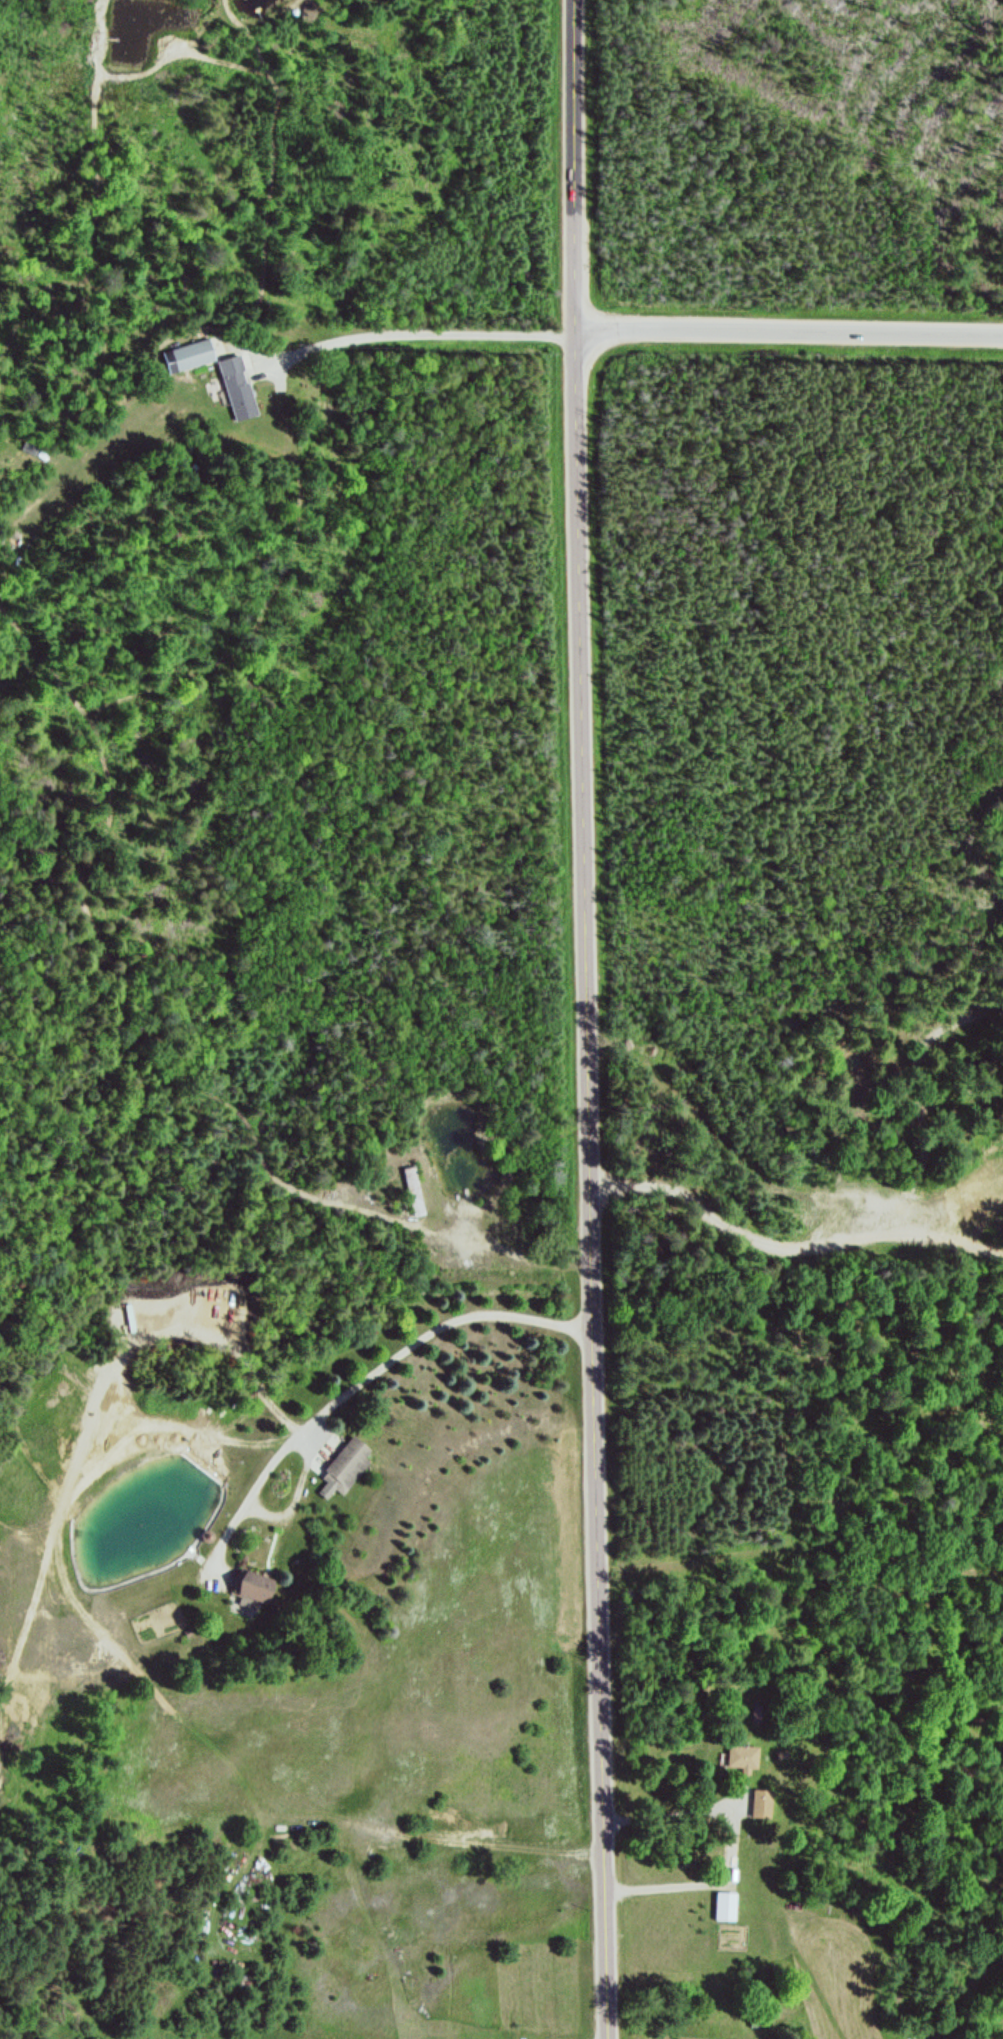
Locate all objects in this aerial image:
road: (786, 335)
road: (411, 336)
building: (189, 357)
building: (238, 389)
building: (33, 445)
road: (580, 1019)
building: (415, 1193)
road: (352, 1385)
building: (351, 1463)
building: (256, 1587)
building: (741, 1755)
building: (762, 1803)
road: (698, 1887)
building: (726, 1907)

